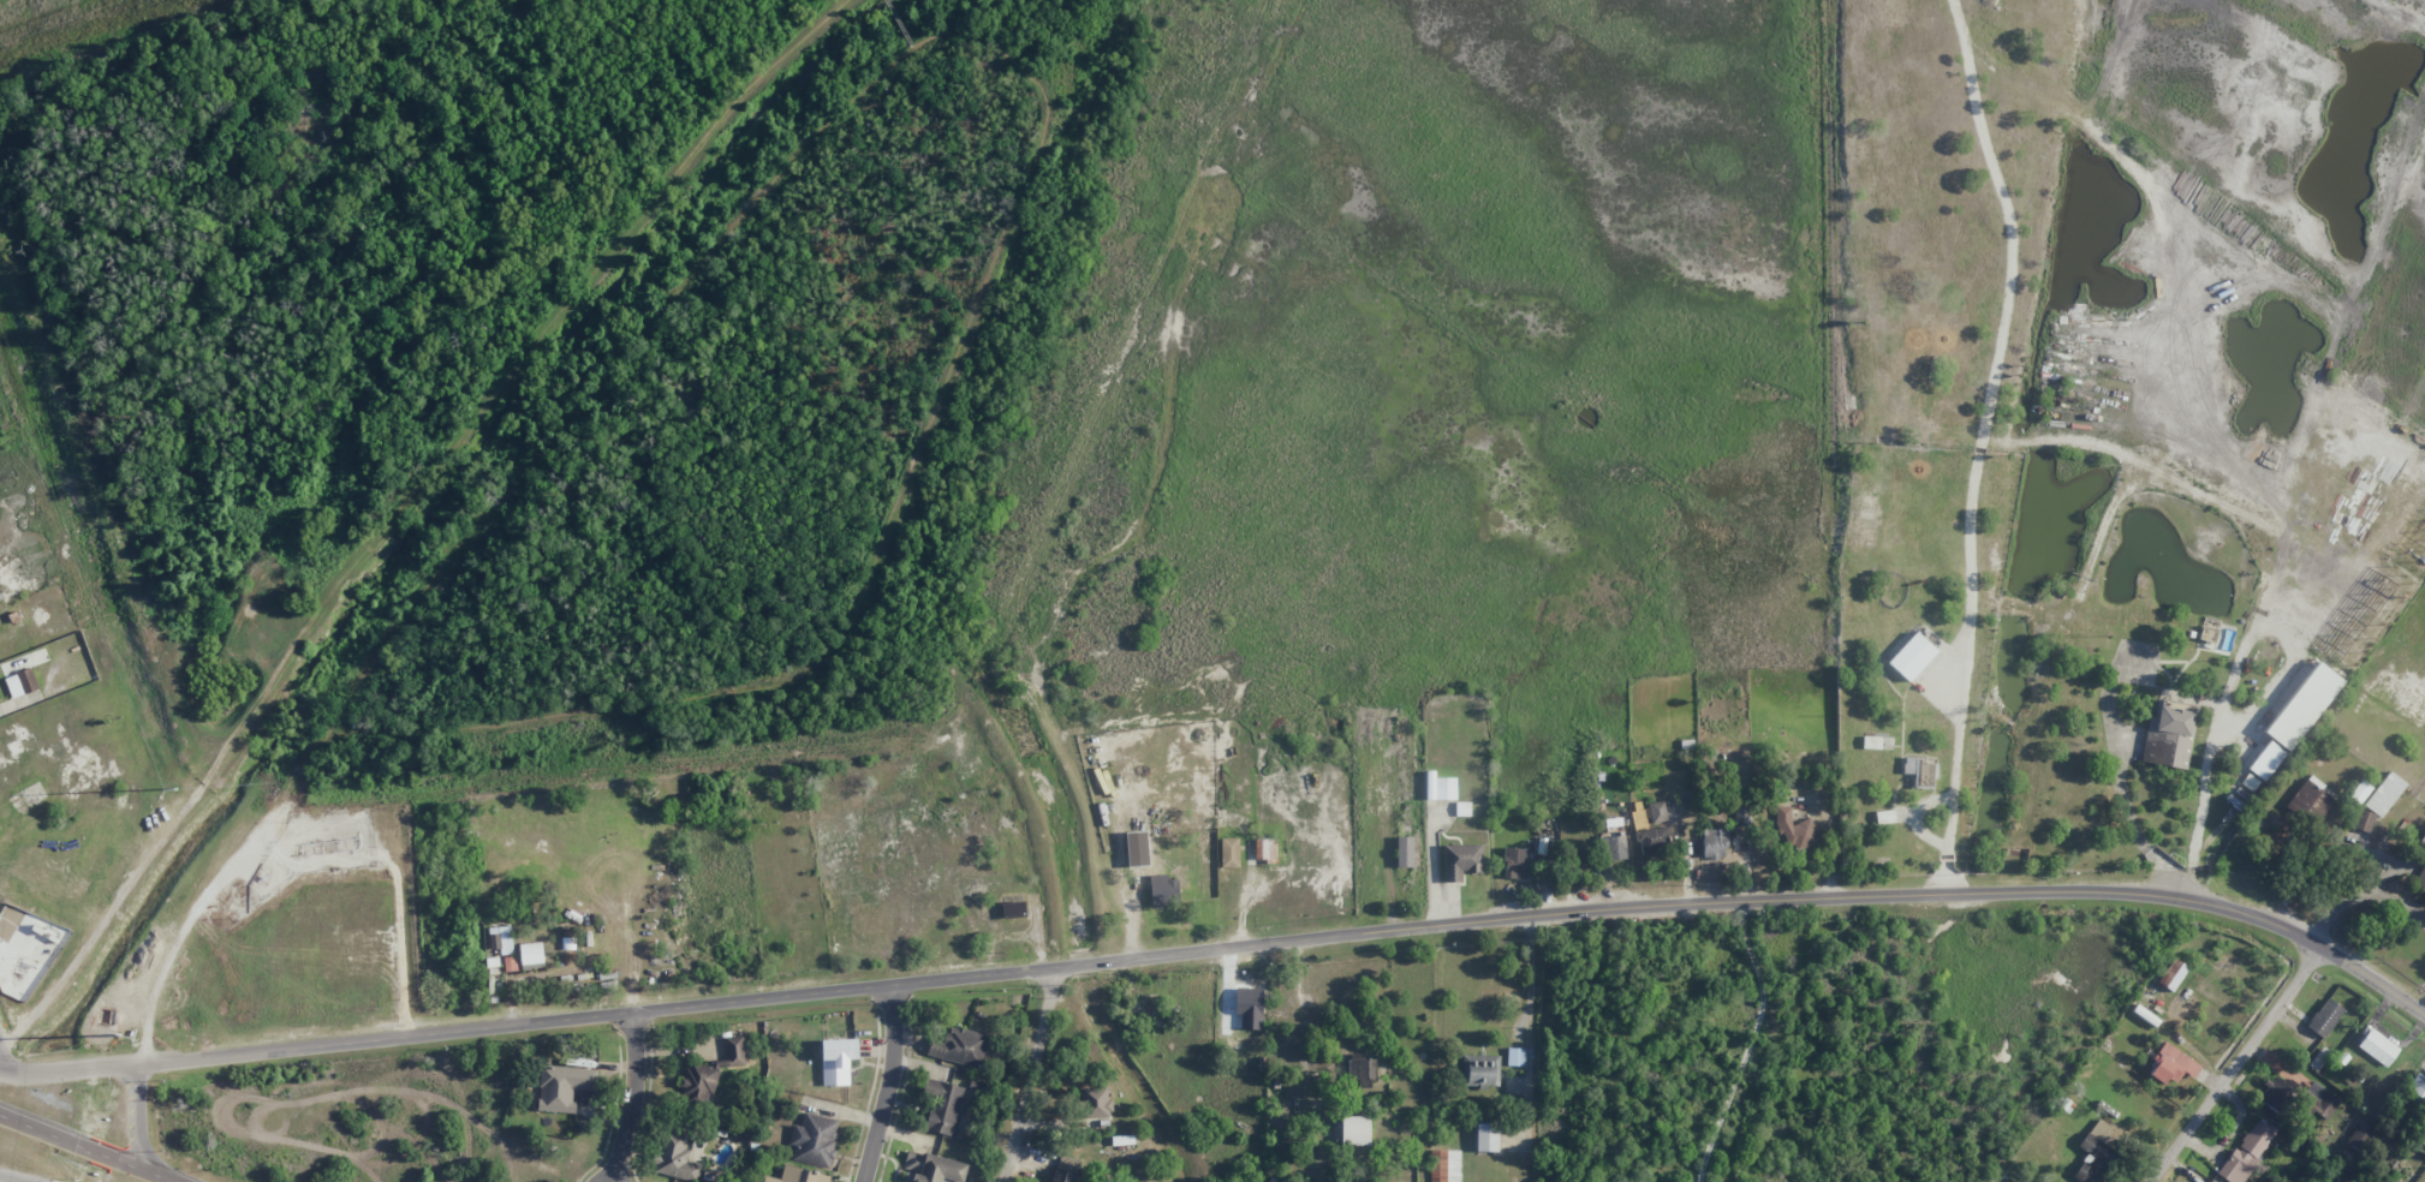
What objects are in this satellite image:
road: (898, 23)
road: (506, 376)
road: (606, 381)
road: (876, 560)
building: (1911, 656)
building: (22, 683)
building: (2302, 706)
building: (2169, 735)
building: (1871, 742)
building: (2266, 760)
building: (1919, 772)
power tower: (173, 787)
building: (1444, 788)
building: (2383, 794)
building: (1462, 808)
building: (1656, 812)
building: (1884, 817)
building: (2363, 820)
building: (1794, 830)
building: (1654, 840)
building: (1714, 843)
building: (1614, 848)
building: (1264, 849)
building: (1229, 852)
building: (1404, 852)
building: (1138, 856)
building: (1461, 861)
building: (1515, 862)
building: (2423, 880)
building: (1163, 890)
road: (197, 906)
building: (1013, 909)
road: (105, 915)
building: (500, 939)
road: (1233, 943)
building: (531, 956)
building: (2171, 974)
building: (2324, 1017)
power tower: (117, 1035)
building: (959, 1046)
building: (2378, 1047)
road: (7, 1053)
building: (1515, 1056)
building: (836, 1061)
road: (2236, 1064)
building: (2171, 1065)
building: (1360, 1069)
road: (7, 1070)
building: (1479, 1070)
road: (1030, 1071)
building: (709, 1073)
road: (889, 1082)
building: (2417, 1086)
building: (564, 1087)
building: (2278, 1094)
road: (631, 1098)
building: (2318, 1100)
building: (1096, 1104)
building: (941, 1108)
road: (137, 1117)
building: (1354, 1130)
building: (1486, 1136)
building: (2421, 1139)
building: (814, 1140)
building: (2358, 1140)
road: (91, 1145)
building: (2247, 1151)
building: (2095, 1154)
building: (678, 1157)
building: (1444, 1165)
building: (934, 1168)
building: (1065, 1169)
building: (798, 1176)
road: (4, 1181)

